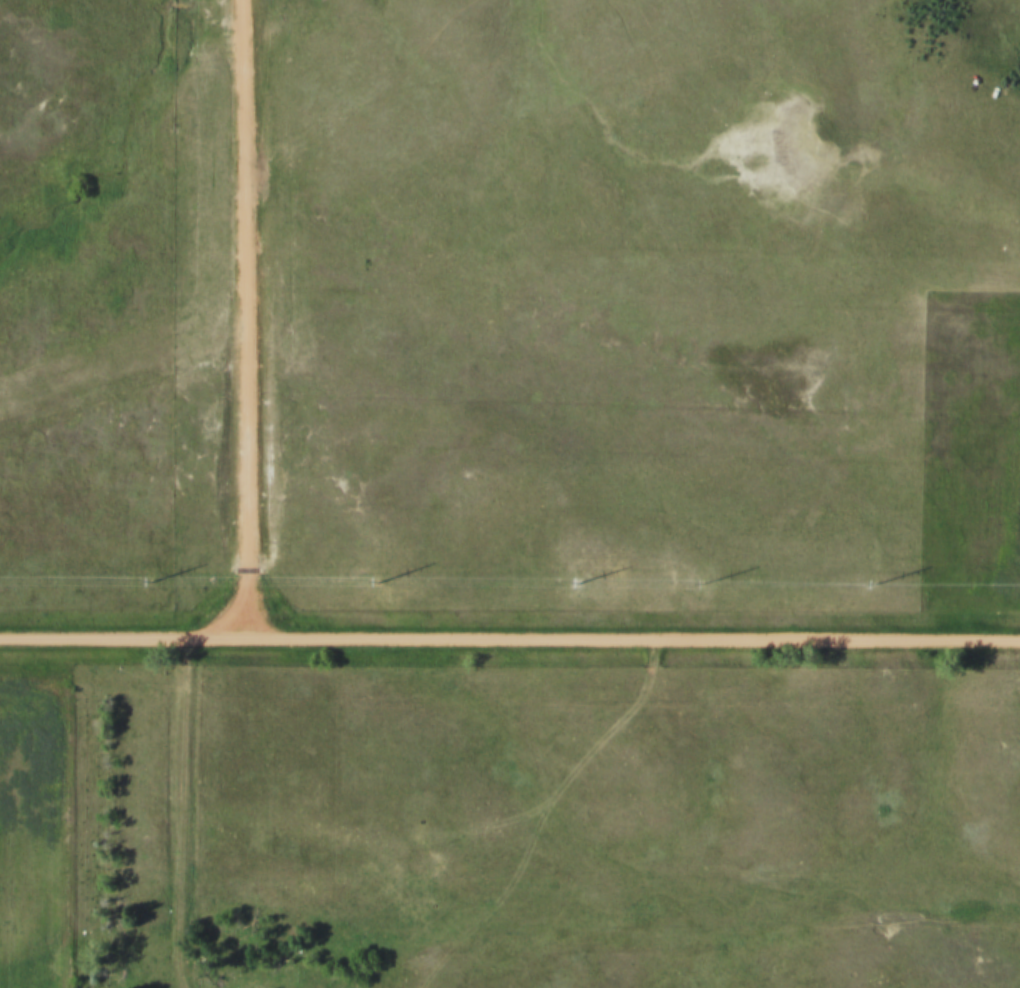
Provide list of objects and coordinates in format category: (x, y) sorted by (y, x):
road: (510, 640)
road: (185, 814)

